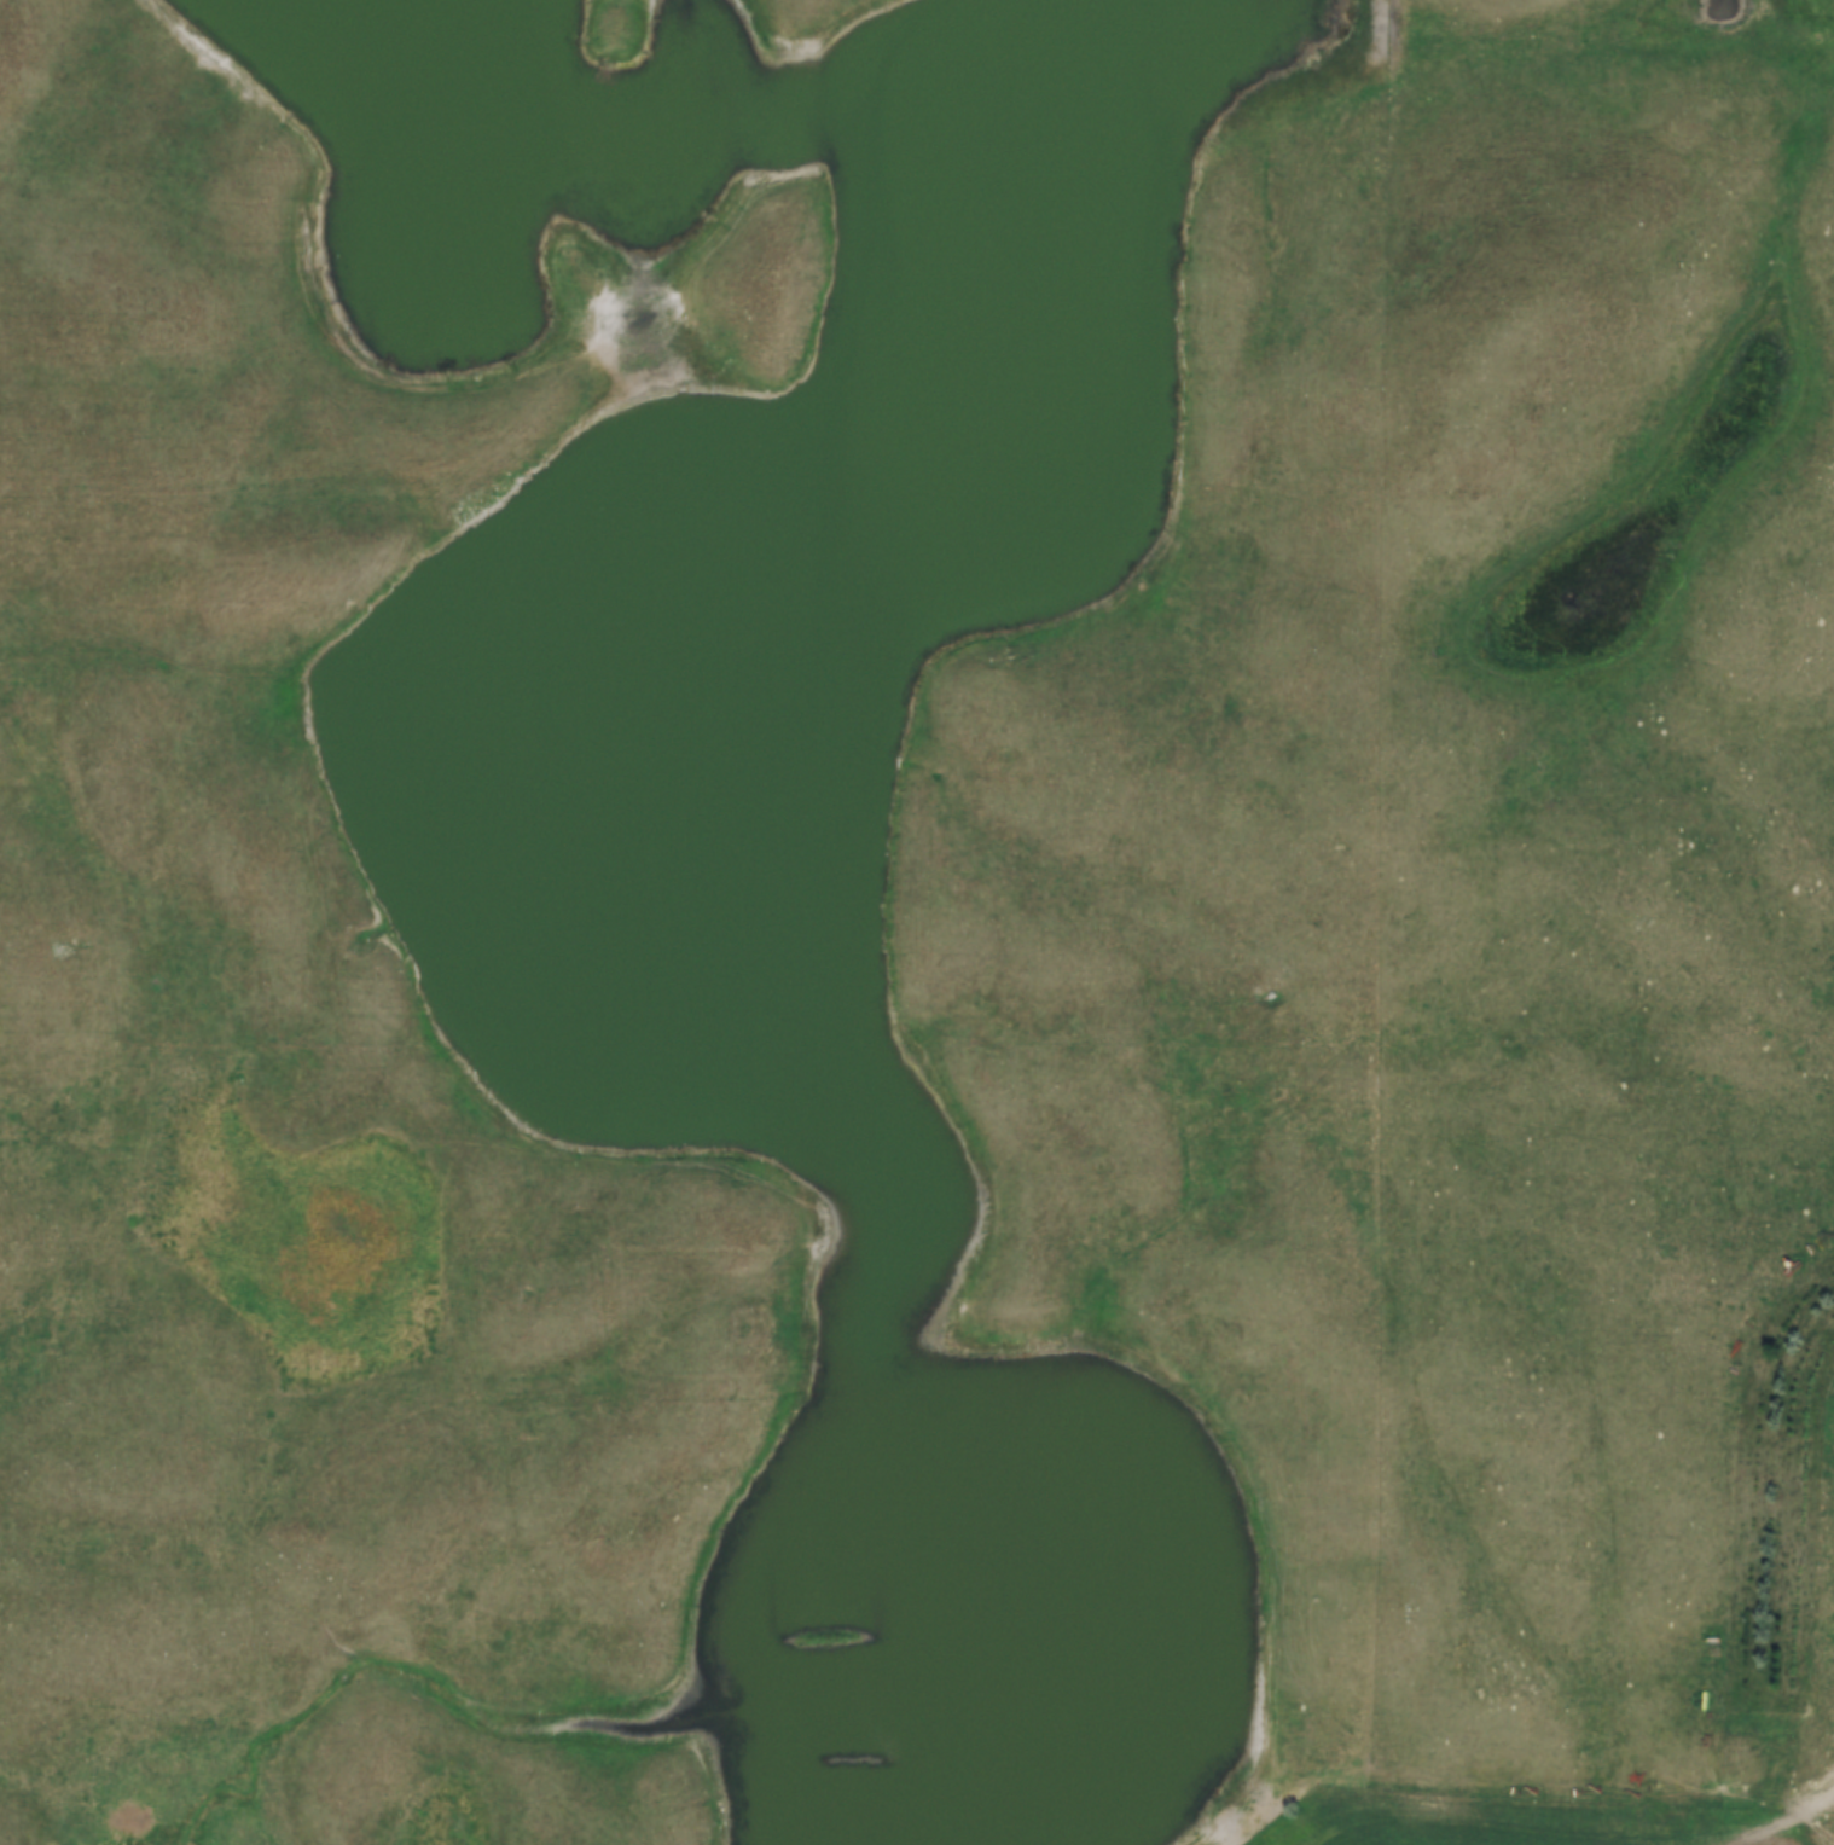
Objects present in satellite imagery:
road: (1565, 1816)
road: (1822, 1824)

